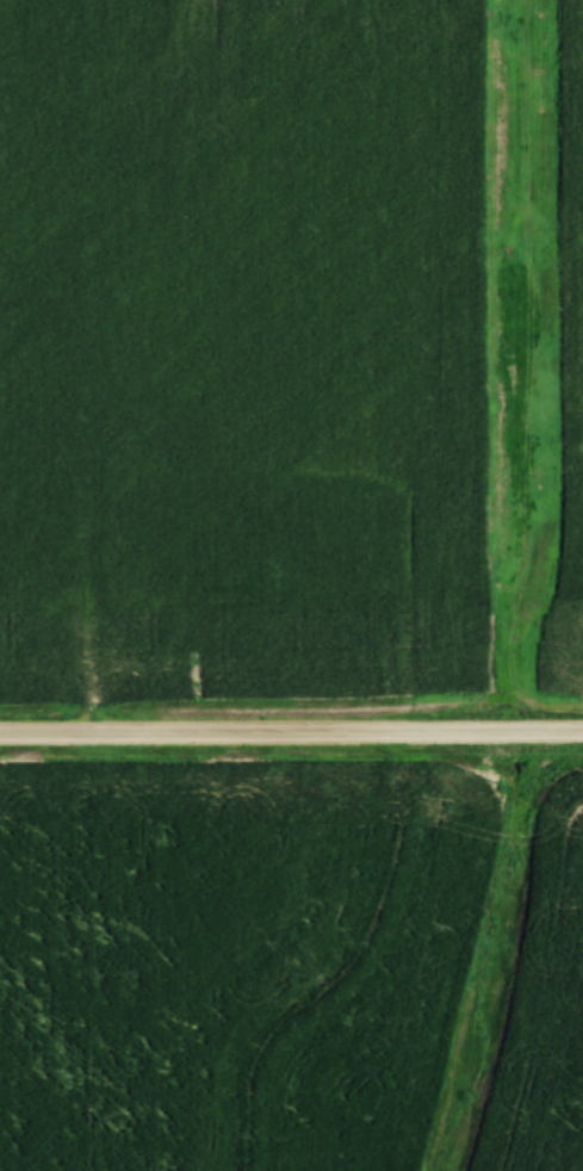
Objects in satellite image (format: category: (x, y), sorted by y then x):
road: (291, 735)

